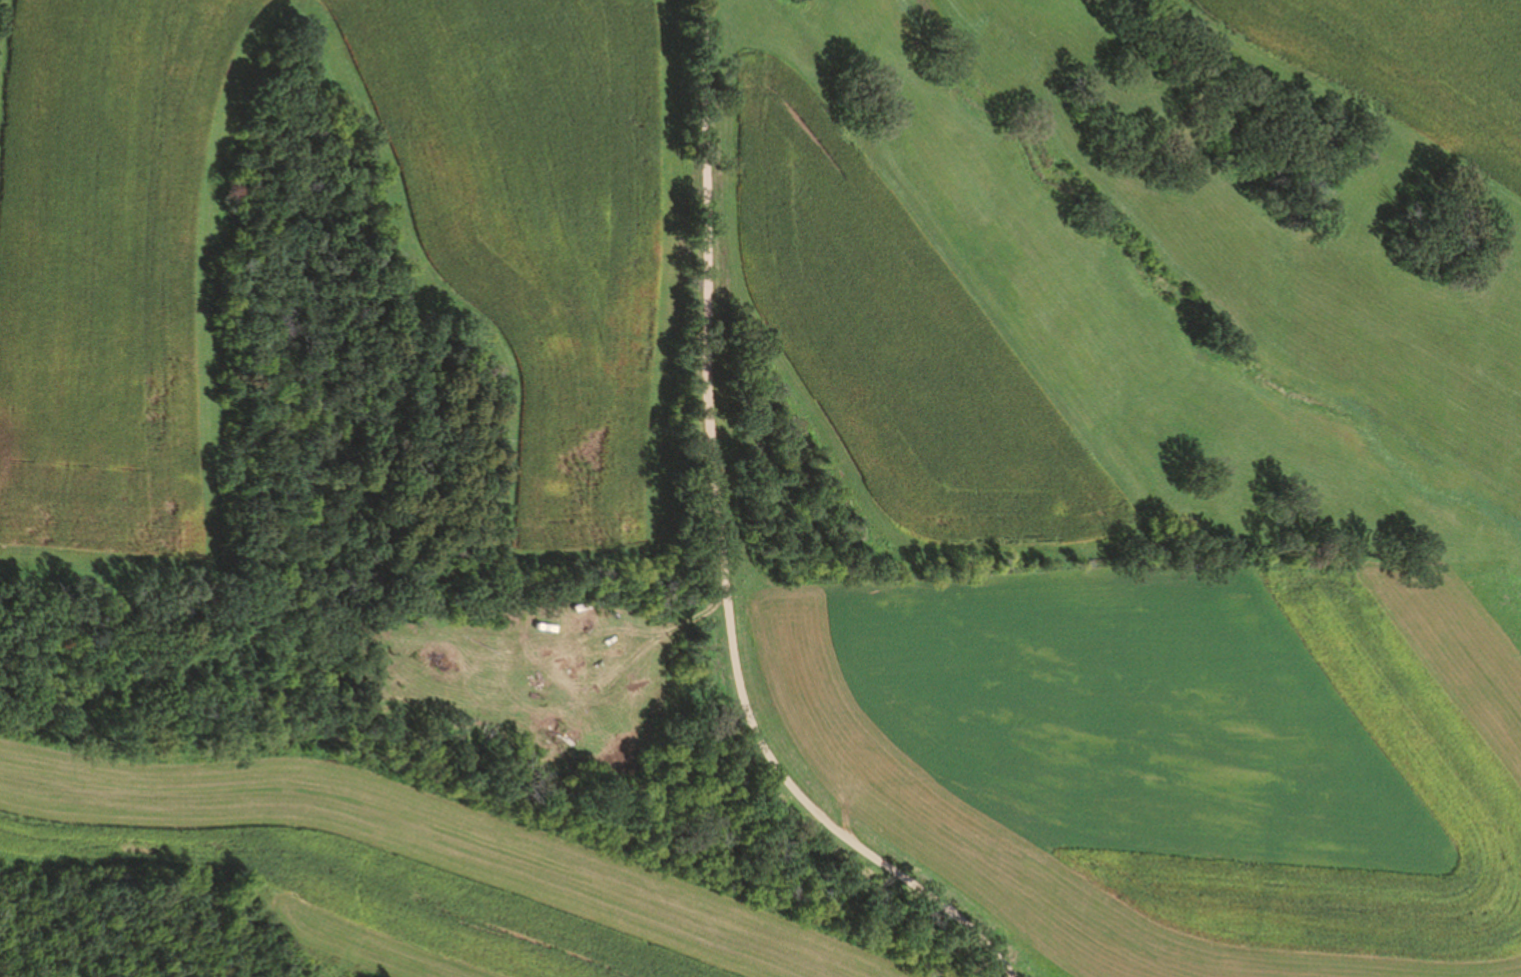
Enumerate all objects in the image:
road: (721, 542)

